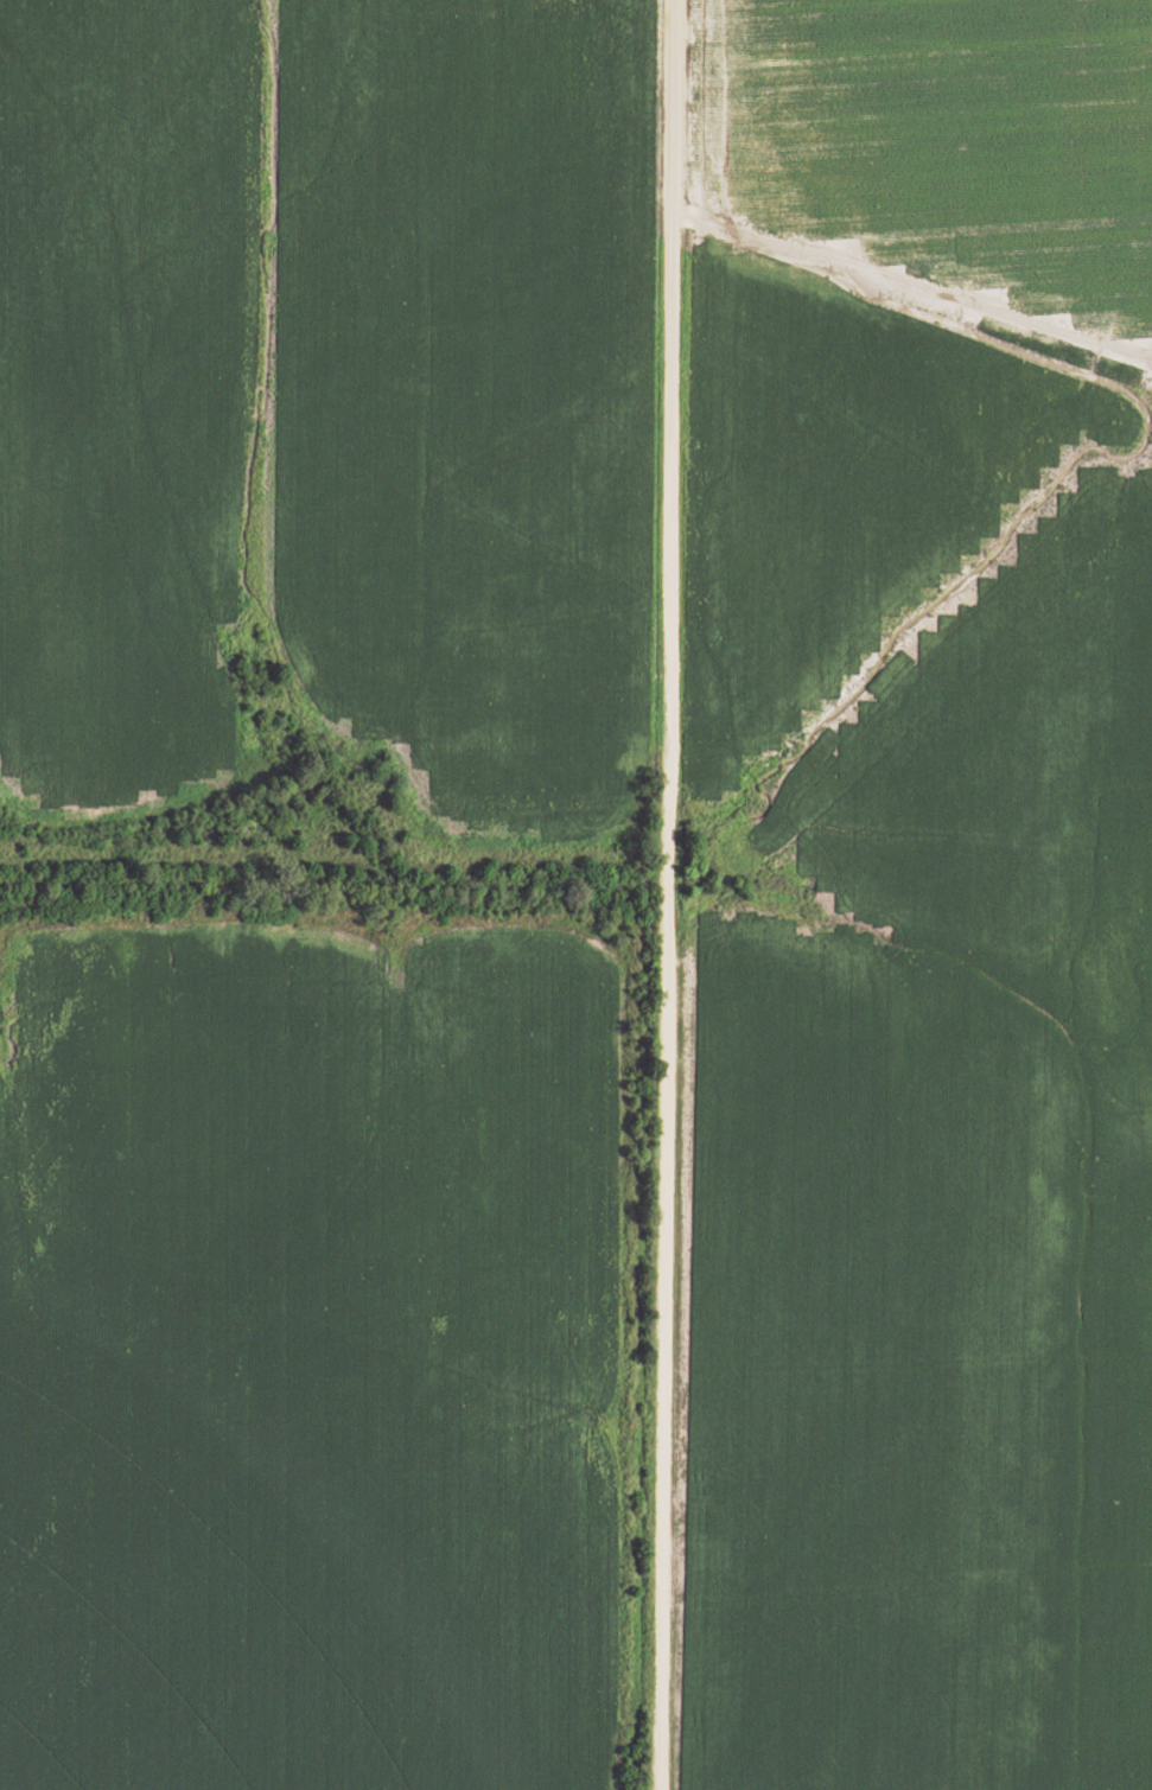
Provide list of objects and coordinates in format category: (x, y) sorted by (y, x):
road: (909, 288)
road: (660, 894)

